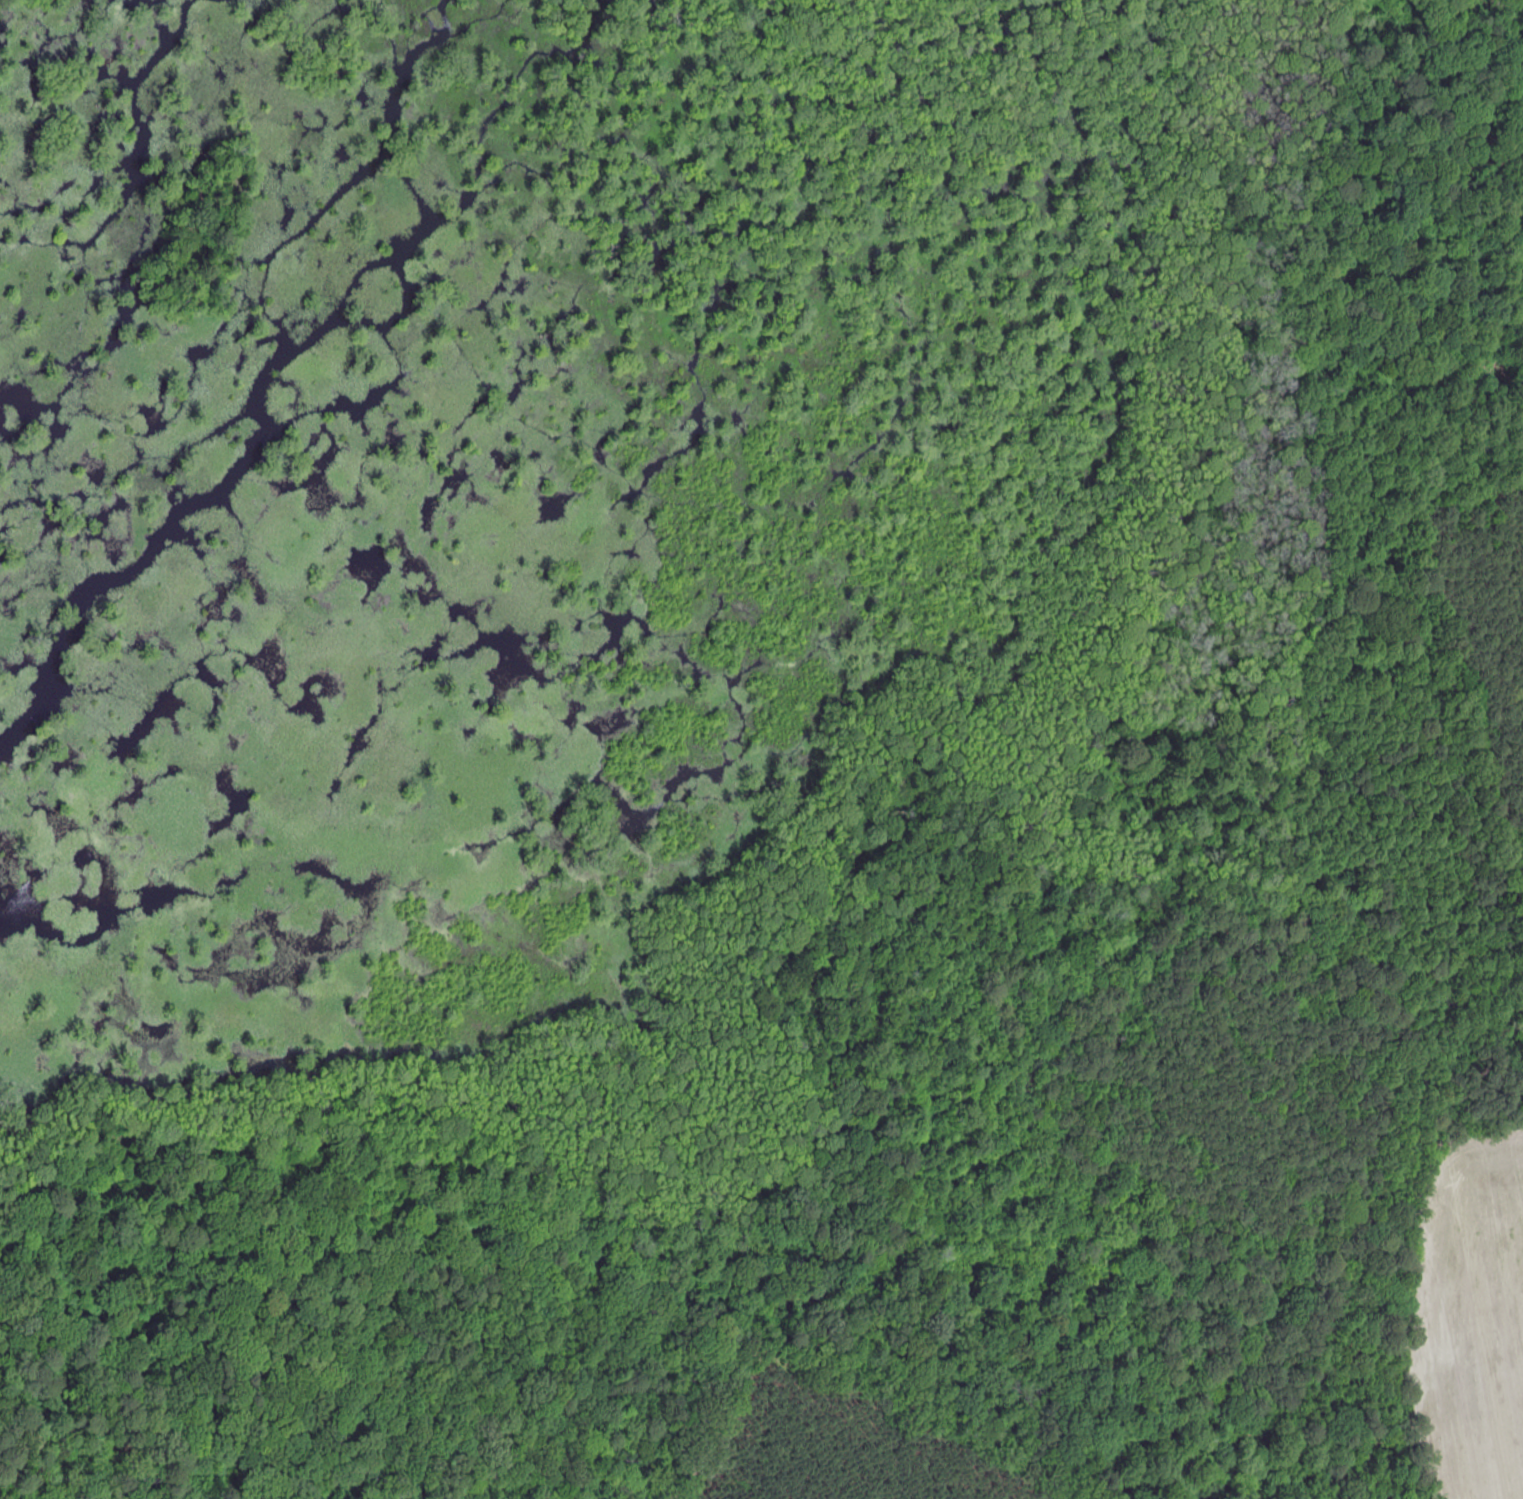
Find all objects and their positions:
park: (736, 723)

